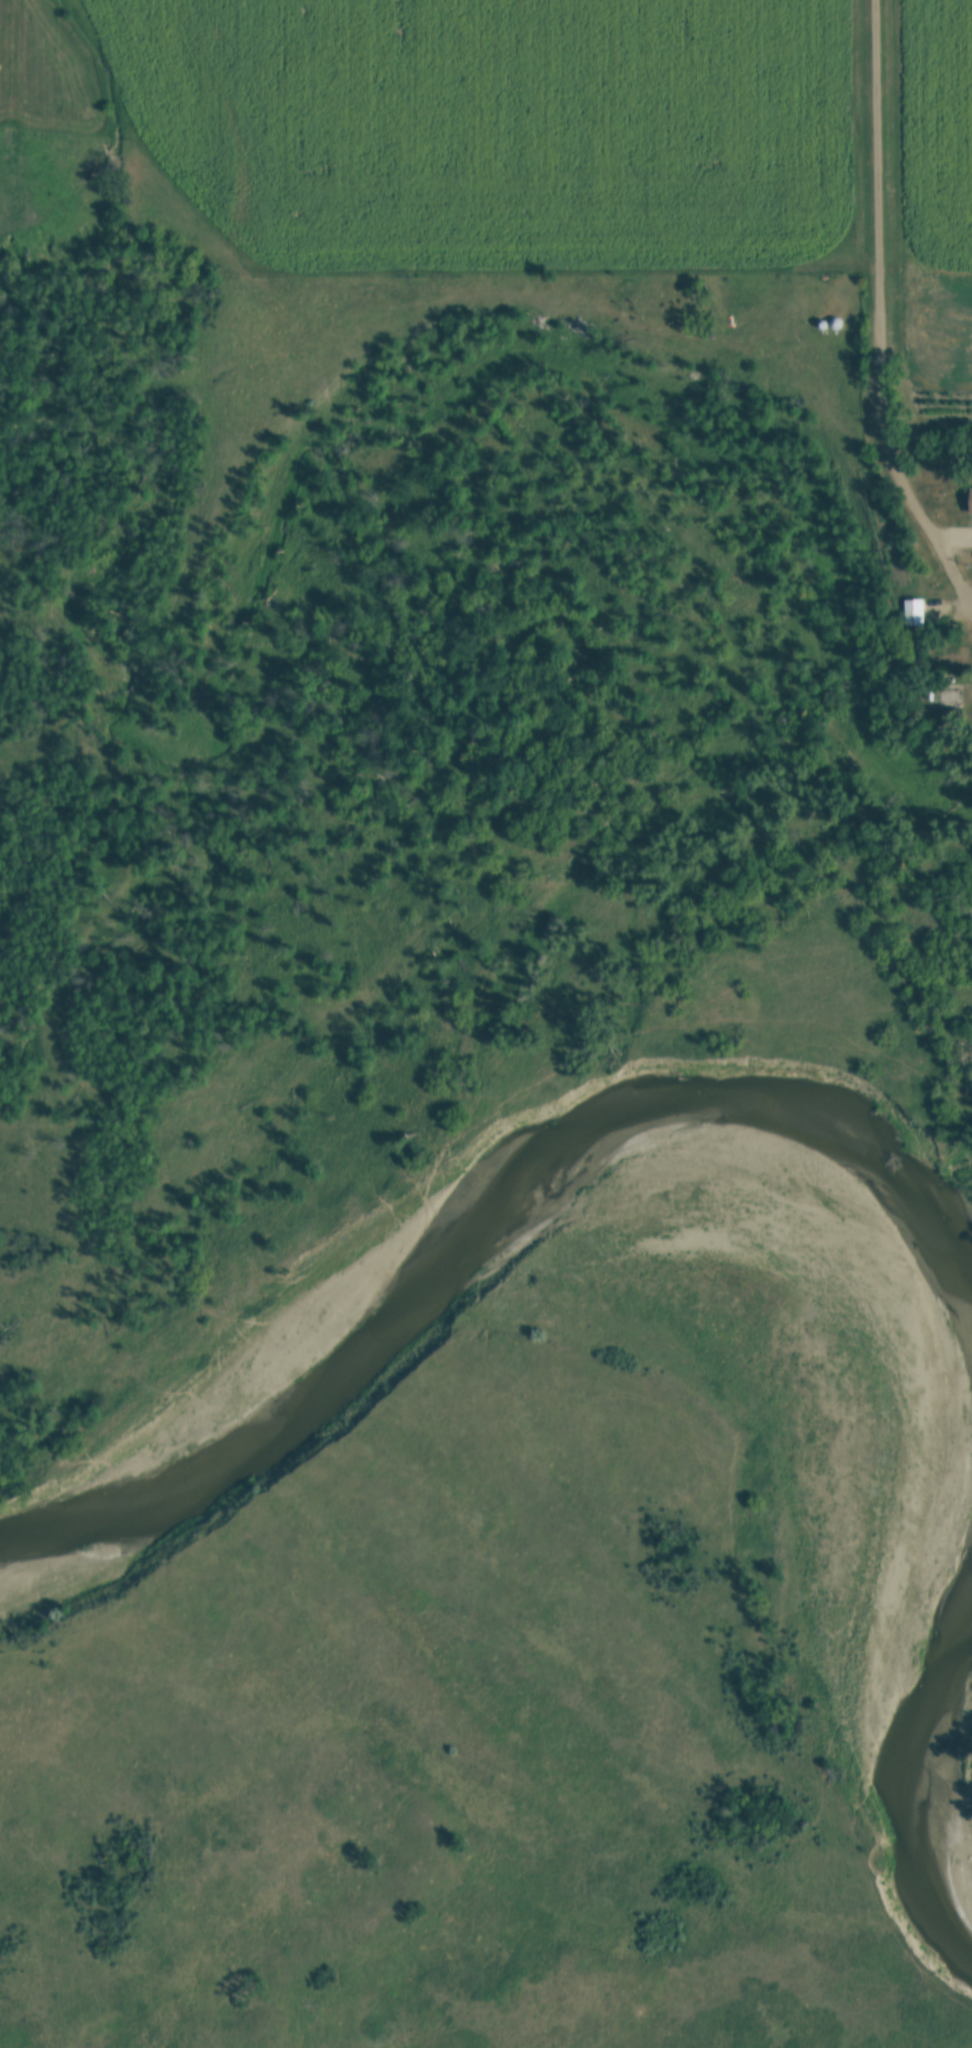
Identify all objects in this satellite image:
road: (883, 274)
building: (971, 501)
building: (918, 612)
building: (949, 657)

